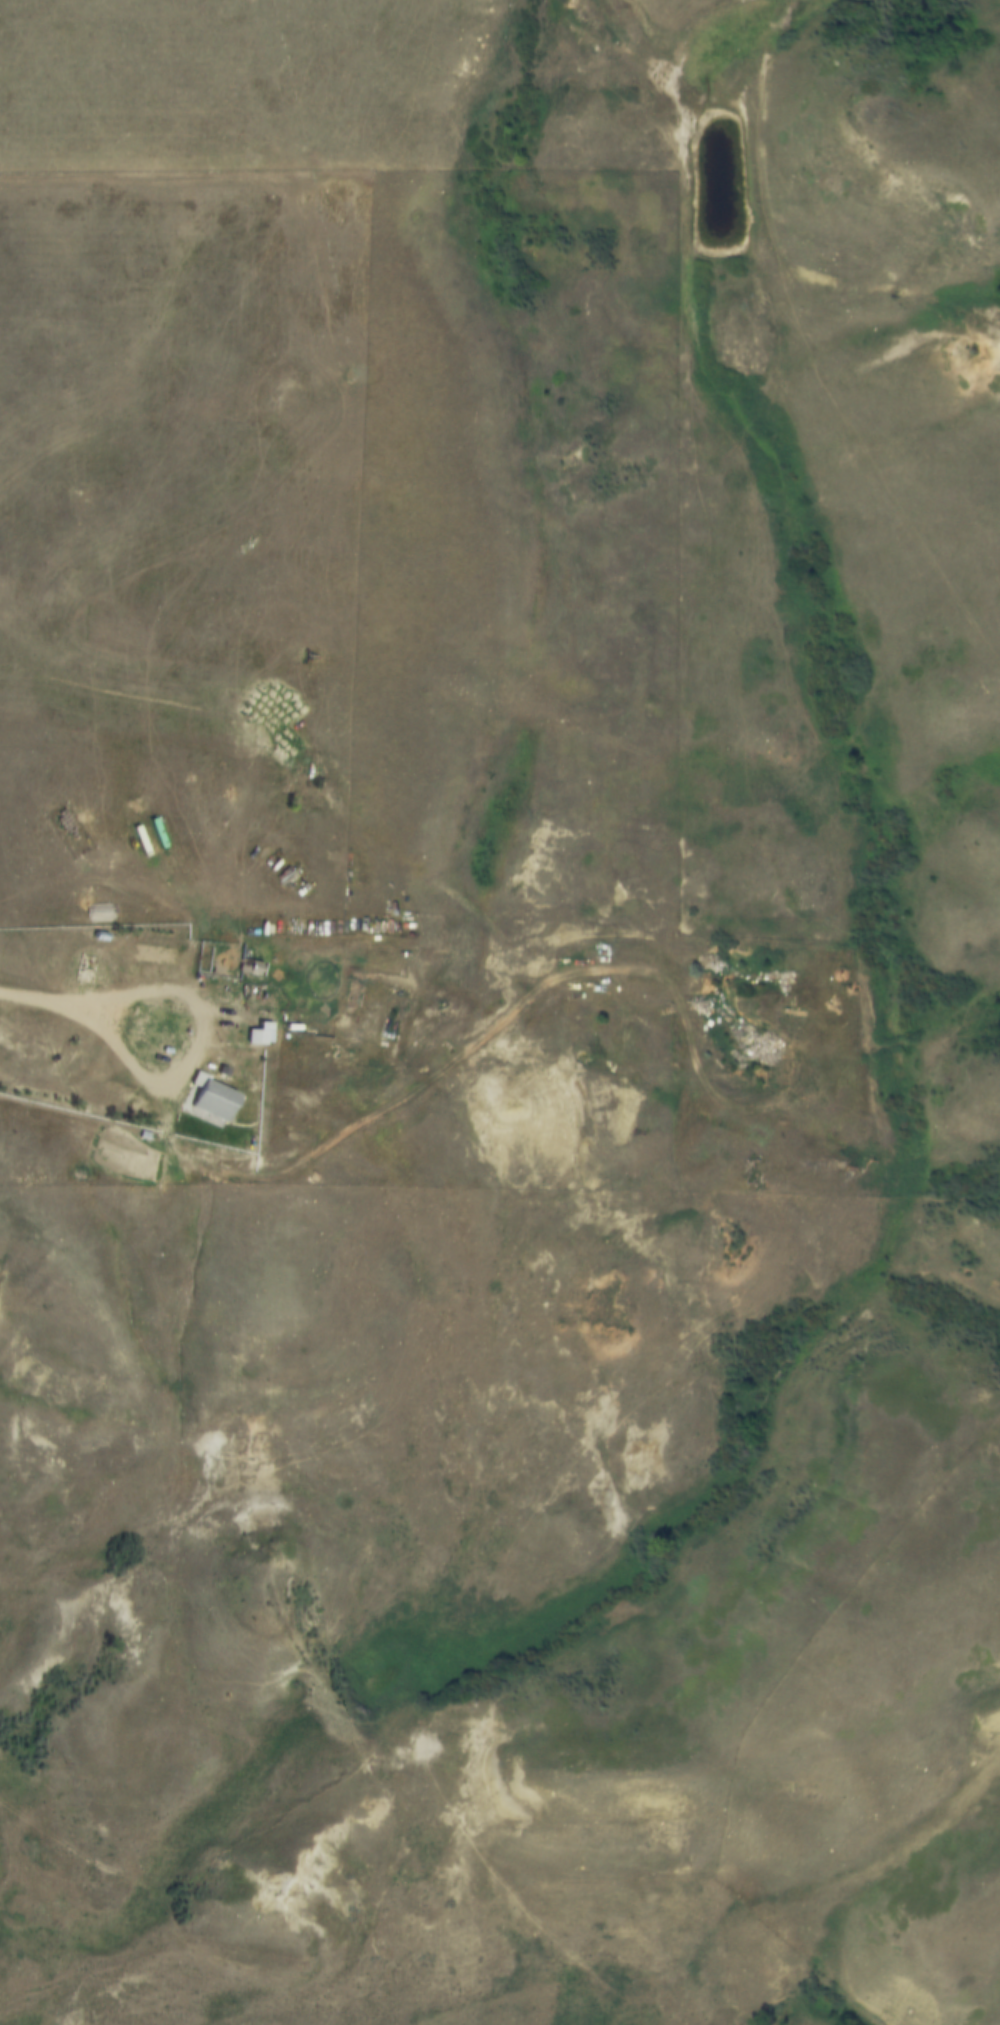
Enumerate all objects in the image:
building: (86, 965)
road: (64, 1006)
building: (168, 1029)
building: (253, 1035)
building: (214, 1098)

